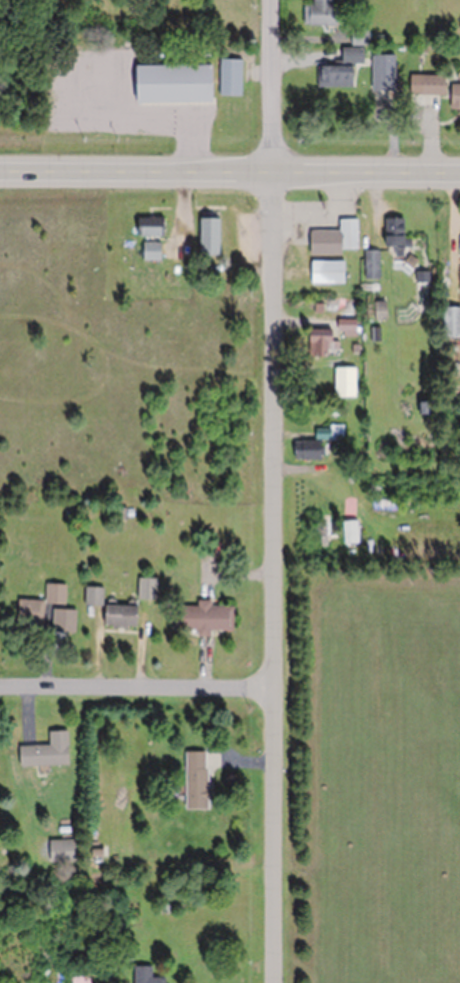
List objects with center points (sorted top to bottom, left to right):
building: (316, 13)
building: (376, 13)
building: (348, 55)
building: (380, 72)
building: (332, 76)
building: (227, 77)
building: (167, 83)
building: (428, 84)
road: (278, 88)
building: (453, 97)
road: (230, 176)
building: (147, 226)
building: (204, 236)
building: (331, 239)
building: (394, 241)
building: (148, 251)
building: (369, 264)
building: (323, 272)
building: (458, 282)
building: (421, 287)
building: (376, 310)
building: (450, 321)
building: (316, 342)
building: (342, 376)
building: (309, 445)
road: (281, 580)
building: (53, 594)
building: (110, 611)
building: (28, 613)
building: (199, 618)
road: (141, 689)
building: (42, 752)
building: (193, 780)
building: (142, 975)

